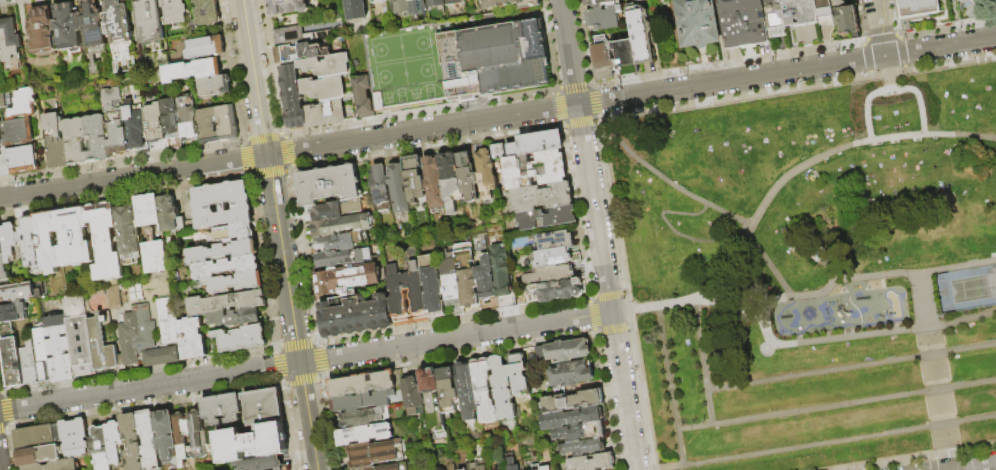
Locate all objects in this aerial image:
building: (453, 2)
building: (436, 3)
building: (499, 3)
building: (600, 3)
building: (993, 3)
building: (418, 6)
building: (287, 7)
building: (403, 7)
building: (380, 8)
building: (918, 8)
building: (357, 11)
building: (174, 12)
building: (823, 12)
building: (206, 13)
building: (787, 15)
building: (602, 17)
building: (844, 18)
building: (151, 22)
building: (696, 22)
building: (742, 23)
road: (880, 28)
building: (68, 29)
building: (94, 29)
building: (43, 31)
building: (641, 32)
building: (120, 34)
building: (298, 36)
road: (720, 41)
building: (11, 45)
building: (205, 49)
building: (298, 52)
building: (602, 56)
building: (624, 57)
building: (458, 60)
building: (327, 66)
building: (192, 72)
road: (888, 73)
road: (254, 77)
building: (214, 87)
building: (324, 88)
road: (891, 90)
building: (363, 95)
building: (291, 96)
road: (631, 97)
building: (3, 103)
building: (323, 114)
building: (188, 119)
building: (115, 123)
building: (171, 125)
building: (225, 125)
building: (135, 128)
building: (206, 128)
building: (155, 130)
building: (19, 134)
building: (0, 137)
building: (96, 139)
building: (56, 143)
building: (75, 144)
building: (536, 144)
building: (3, 152)
building: (497, 152)
building: (23, 161)
building: (5, 168)
building: (533, 170)
building: (486, 171)
road: (658, 175)
road: (133, 176)
building: (466, 176)
building: (414, 180)
building: (449, 181)
building: (433, 183)
building: (328, 184)
road: (778, 185)
building: (379, 189)
building: (398, 189)
building: (542, 197)
building: (221, 204)
building: (170, 216)
building: (546, 218)
building: (339, 219)
building: (128, 231)
building: (234, 232)
road: (598, 234)
road: (677, 234)
building: (152, 235)
building: (74, 239)
building: (553, 241)
building: (30, 242)
building: (341, 242)
building: (49, 243)
building: (106, 243)
building: (12, 245)
building: (829, 247)
building: (222, 252)
building: (341, 258)
building: (551, 258)
road: (769, 263)
building: (3, 265)
park: (805, 265)
building: (225, 267)
building: (500, 272)
building: (548, 275)
building: (465, 276)
building: (345, 279)
building: (485, 279)
building: (234, 282)
building: (430, 285)
building: (450, 287)
park: (967, 289)
building: (547, 293)
building: (19, 294)
building: (415, 295)
building: (112, 297)
road: (925, 300)
building: (225, 302)
road: (726, 307)
road: (291, 312)
building: (12, 314)
building: (354, 316)
building: (235, 317)
road: (759, 319)
building: (169, 322)
building: (79, 337)
building: (241, 338)
building: (192, 340)
building: (143, 341)
building: (102, 344)
building: (59, 350)
building: (559, 353)
building: (43, 358)
building: (121, 362)
road: (305, 362)
road: (702, 362)
building: (12, 364)
building: (29, 365)
road: (851, 367)
building: (519, 376)
building: (571, 376)
road: (670, 385)
building: (366, 386)
building: (502, 390)
building: (448, 391)
building: (467, 392)
building: (484, 392)
building: (414, 398)
building: (588, 400)
building: (433, 402)
building: (361, 403)
building: (555, 405)
road: (837, 406)
building: (264, 408)
building: (223, 411)
building: (378, 416)
building: (573, 419)
building: (347, 421)
building: (580, 433)
building: (199, 436)
building: (365, 436)
building: (37, 438)
building: (167, 438)
building: (75, 439)
building: (184, 440)
building: (149, 441)
road: (836, 441)
building: (115, 442)
building: (133, 442)
building: (252, 444)
building: (101, 449)
building: (583, 449)
building: (375, 450)
building: (39, 457)
road: (949, 460)
building: (376, 461)
building: (592, 463)
building: (261, 464)
building: (510, 465)
building: (57, 466)
road: (976, 466)
building: (399, 467)
building: (476, 467)
building: (533, 467)
building: (546, 468)
building: (369, 469)

